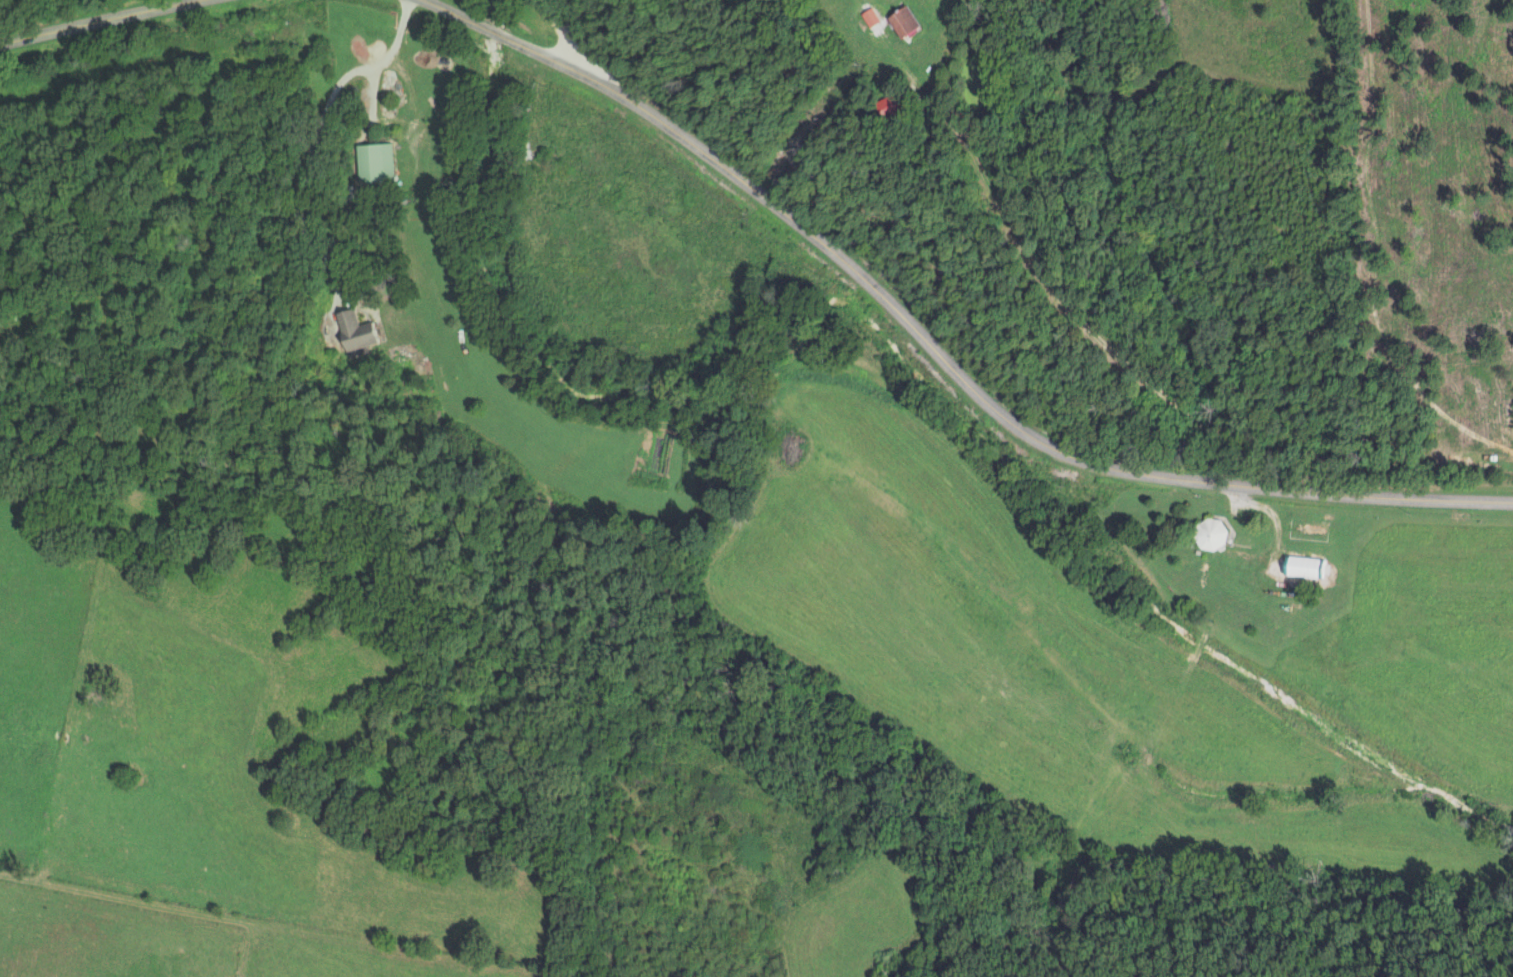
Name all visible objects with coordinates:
building: (868, 17)
road: (88, 18)
building: (900, 22)
road: (566, 34)
road: (317, 134)
building: (381, 163)
building: (364, 330)
road: (936, 346)
road: (1276, 524)
building: (1207, 534)
building: (1298, 567)

